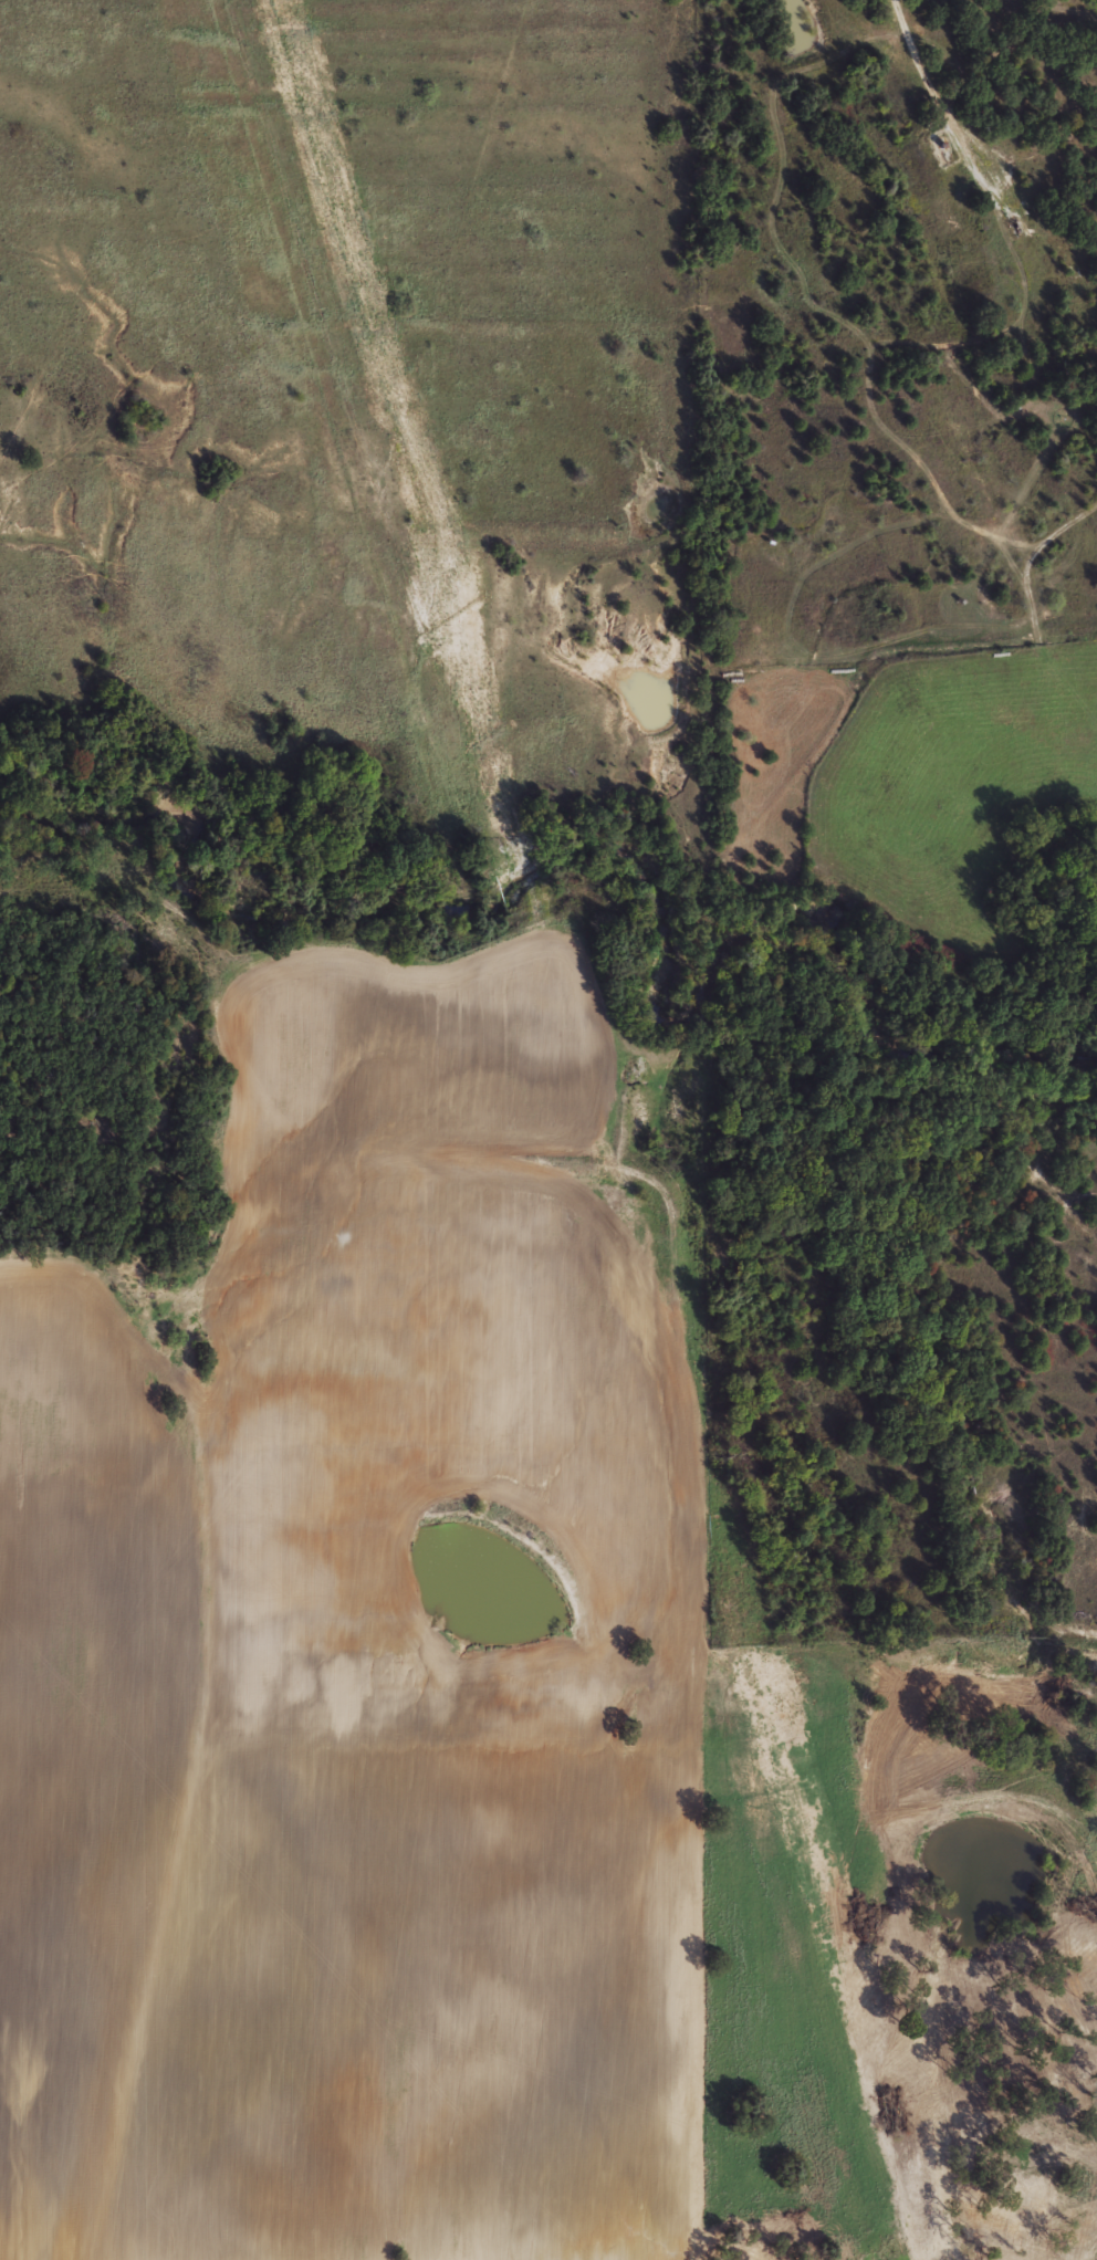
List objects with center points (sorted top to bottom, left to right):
road: (997, 199)

